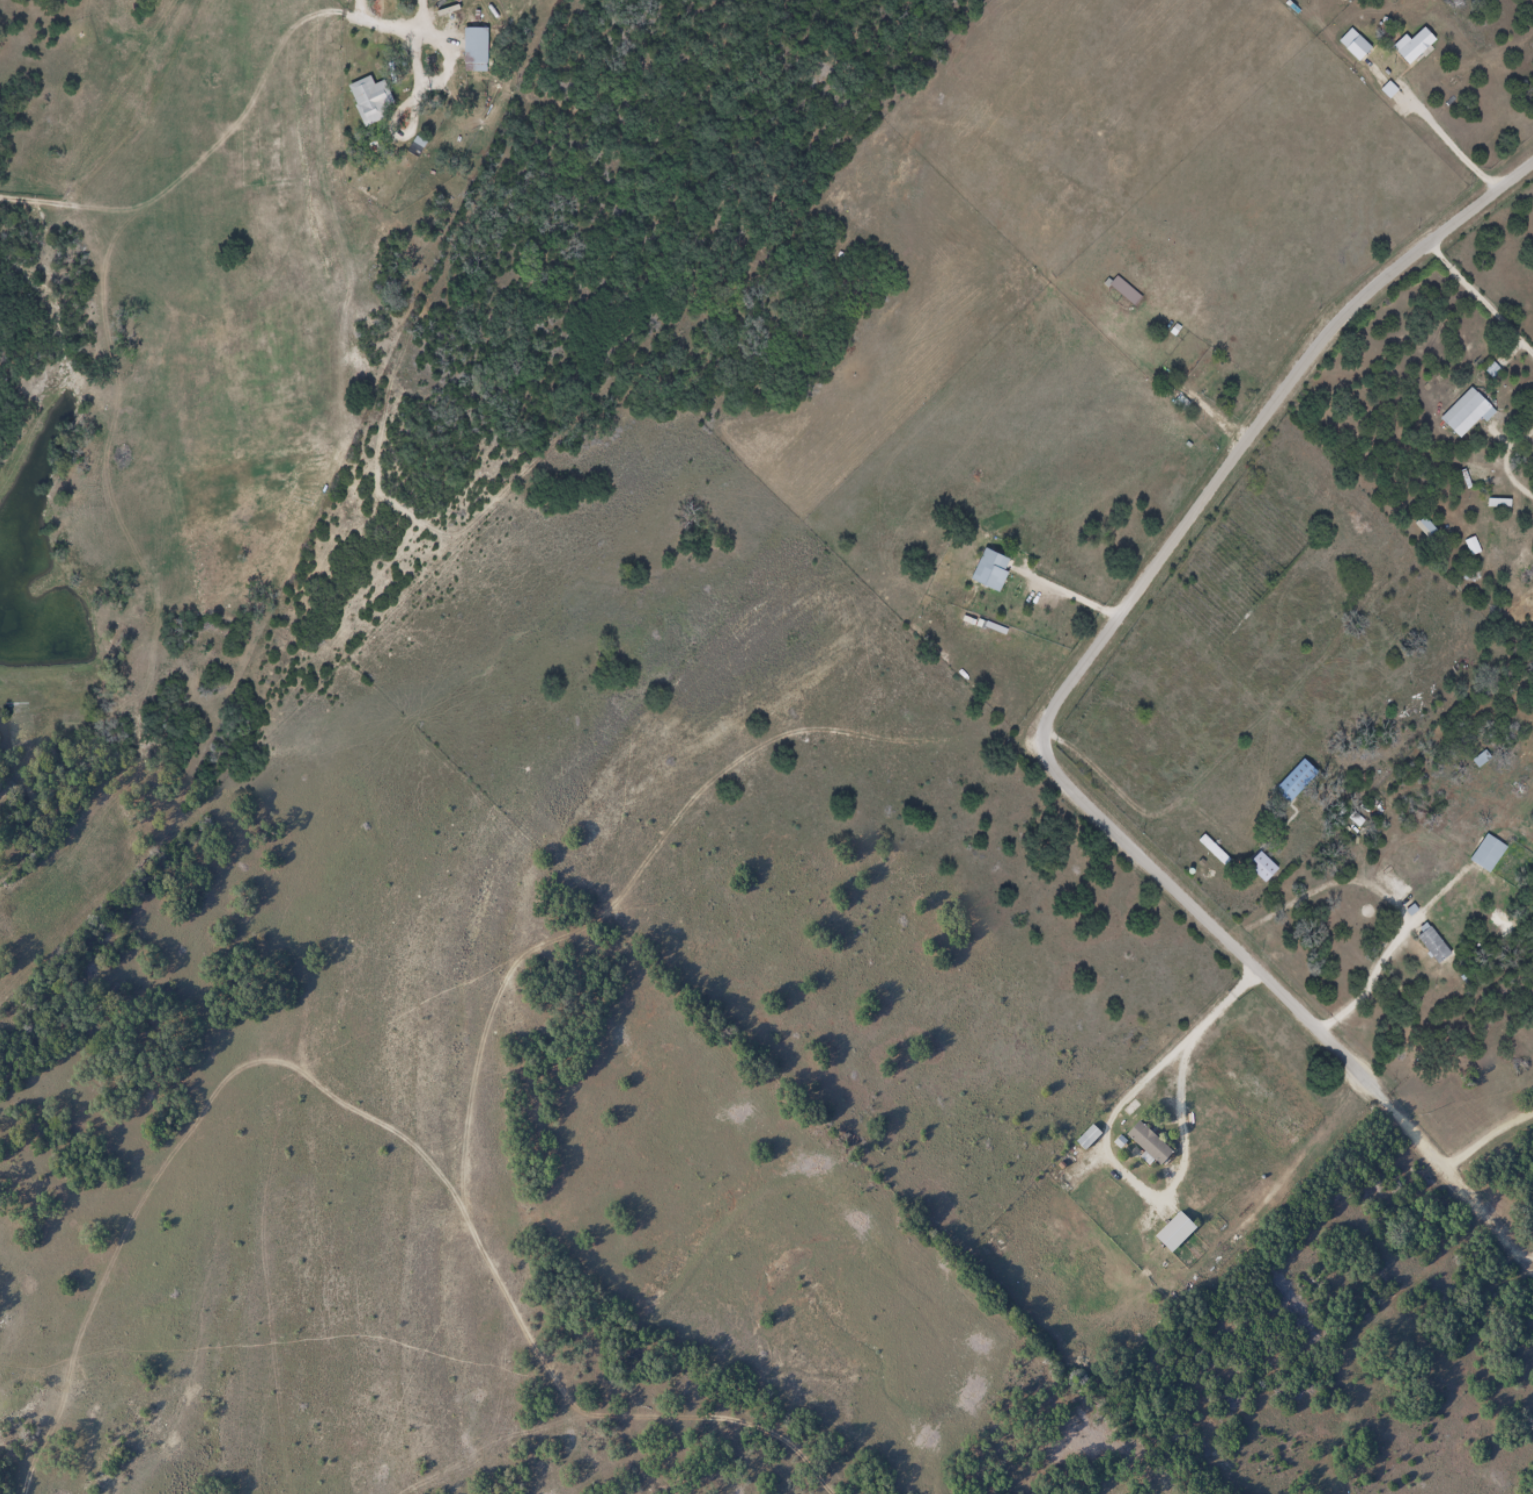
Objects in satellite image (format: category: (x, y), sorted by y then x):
building: (1421, 46)
building: (472, 50)
building: (368, 100)
road: (1501, 263)
building: (1123, 292)
building: (1200, 375)
building: (1464, 413)
building: (1425, 529)
building: (1470, 546)
building: (988, 571)
road: (1383, 662)
road: (1052, 712)
building: (1293, 782)
building: (1485, 854)
building: (1259, 868)
building: (1430, 944)
road: (1448, 991)
road: (489, 1033)
building: (1085, 1137)
building: (1145, 1143)
building: (1171, 1231)

